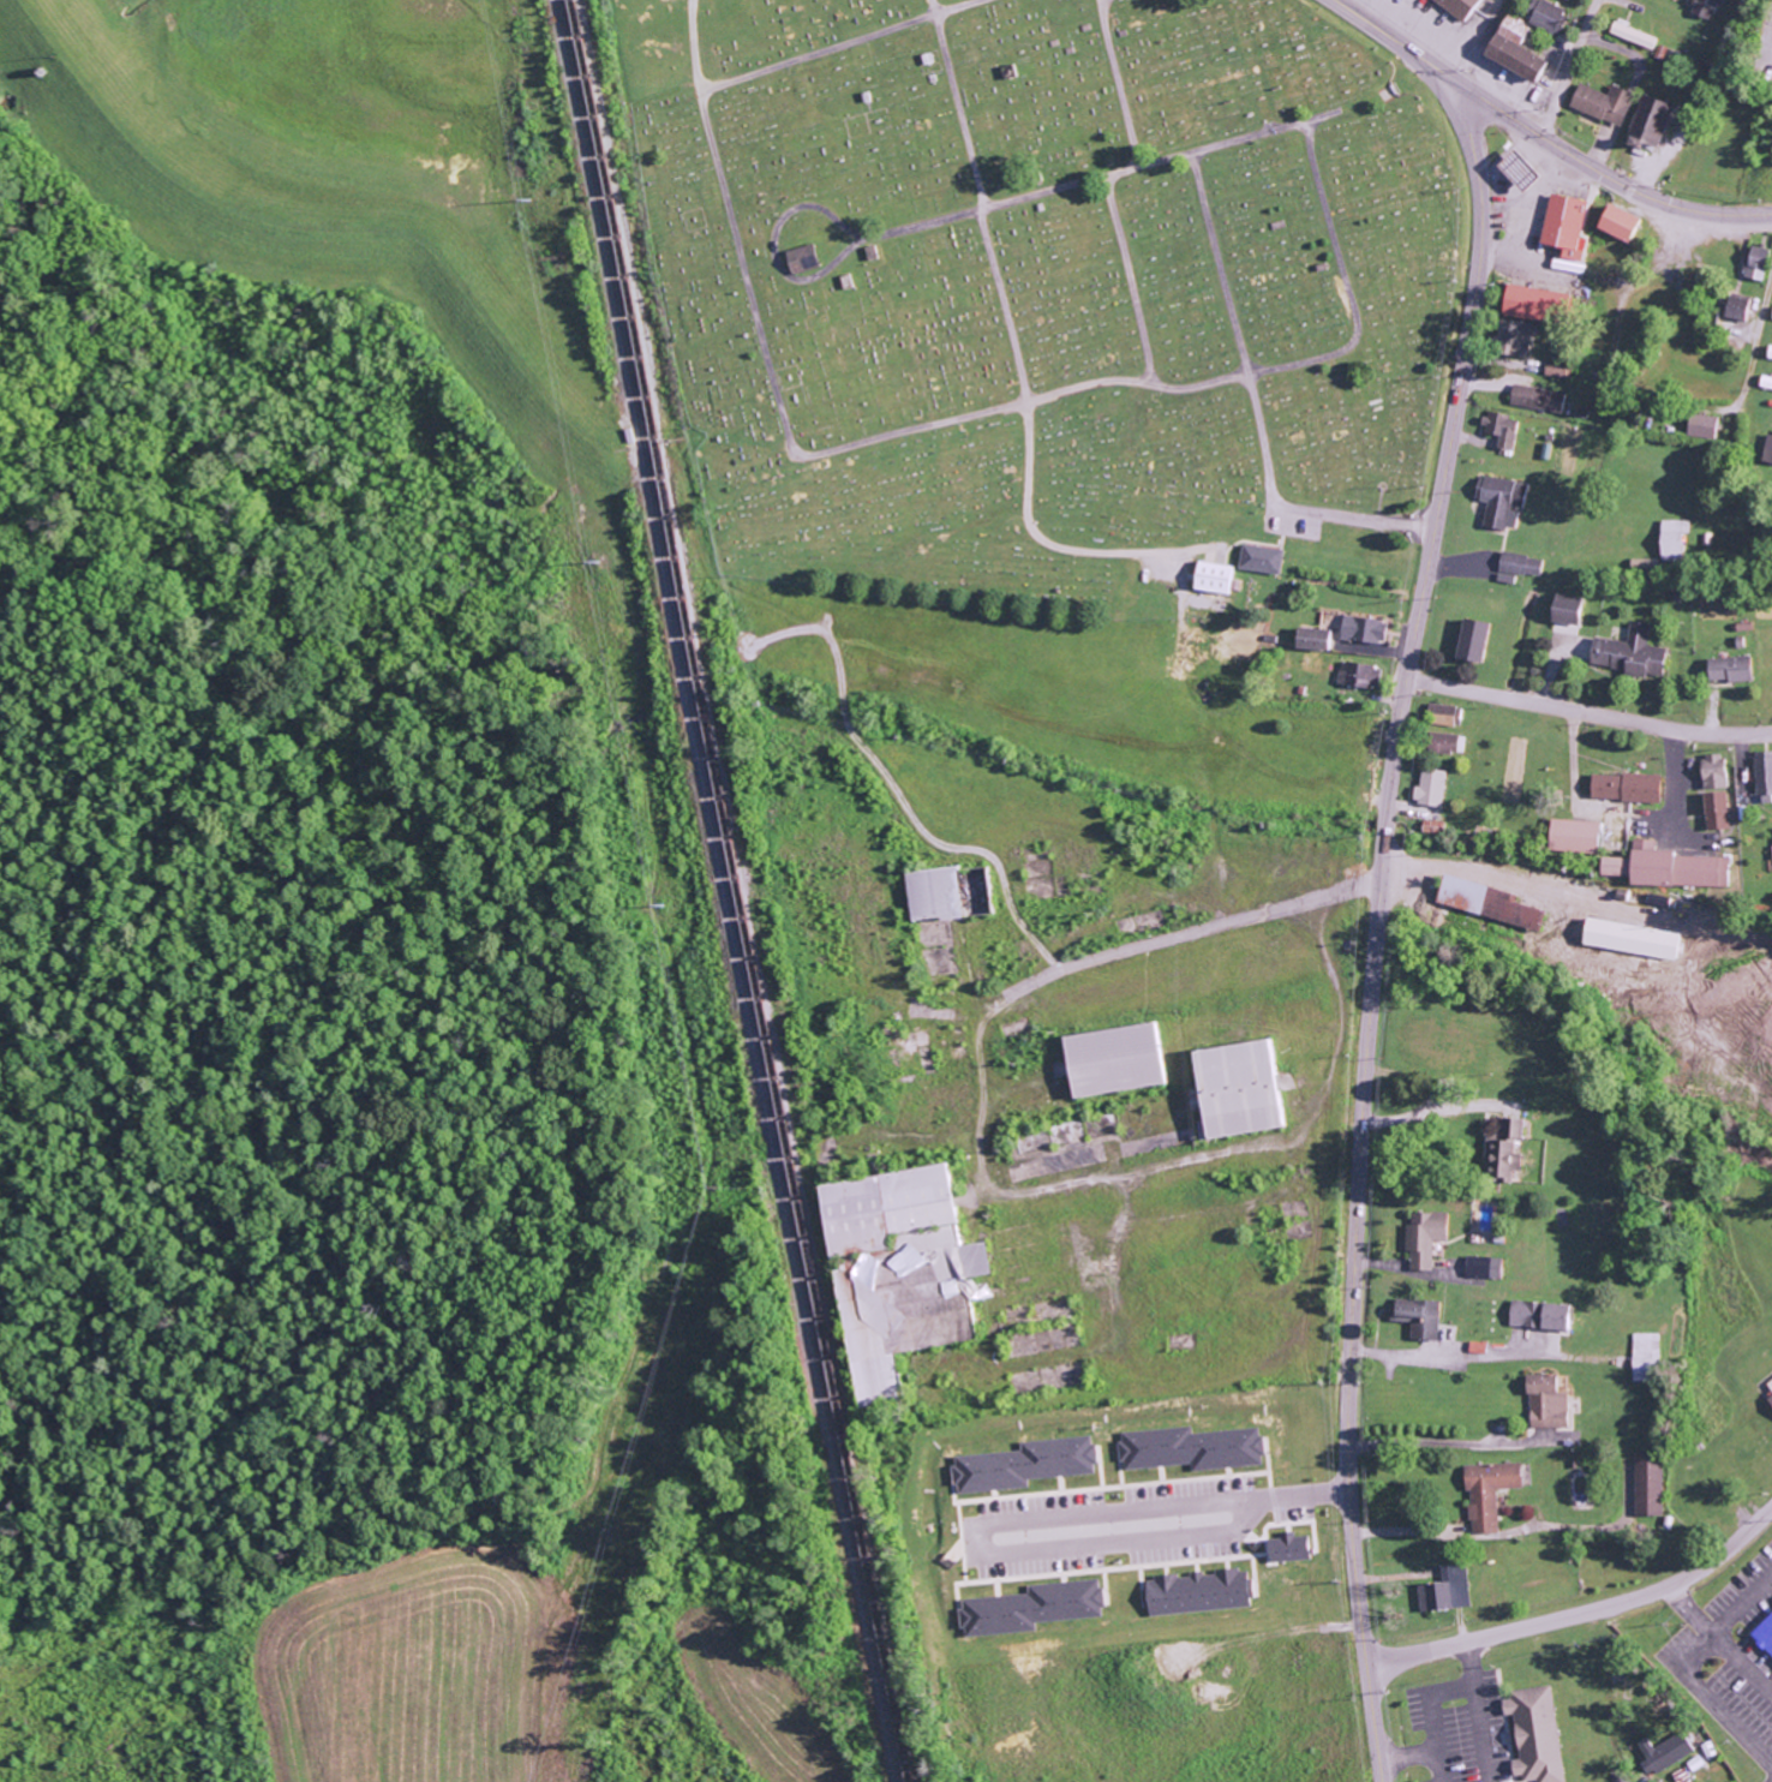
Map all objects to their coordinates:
building: (1574, 0)
building: (1456, 7)
building: (1700, 8)
building: (1545, 17)
building: (1630, 35)
road: (1408, 50)
building: (1513, 50)
road: (1574, 55)
road: (1118, 83)
building: (1599, 103)
building: (1645, 122)
road: (1545, 124)
building: (1515, 171)
road: (1091, 178)
road: (1620, 185)
road: (809, 207)
road: (982, 207)
building: (1614, 222)
building: (1563, 232)
building: (801, 258)
building: (1752, 263)
road: (1129, 280)
park: (1044, 292)
building: (1537, 305)
building: (1732, 309)
building: (1771, 312)
road: (1755, 331)
building: (1510, 337)
building: (1767, 352)
building: (1557, 370)
building: (1764, 382)
building: (1534, 397)
road: (1255, 402)
road: (924, 426)
building: (1699, 426)
building: (1498, 430)
building: (1766, 449)
building: (1498, 501)
building: (1670, 539)
building: (1258, 558)
building: (1515, 567)
building: (1211, 578)
building: (1564, 614)
building: (1361, 629)
building: (1310, 639)
building: (1469, 641)
building: (1628, 653)
building: (1728, 669)
building: (1357, 675)
road: (1588, 711)
building: (1441, 714)
building: (1442, 743)
building: (1712, 771)
building: (1762, 777)
building: (1624, 787)
building: (1429, 788)
building: (1714, 811)
building: (1430, 826)
building: (1572, 836)
building: (1771, 853)
building: (1610, 867)
building: (1672, 868)
railway: (726, 891)
building: (945, 892)
building: (1459, 895)
building: (1507, 910)
road: (1376, 935)
building: (1628, 939)
building: (1112, 1059)
building: (1237, 1088)
building: (1502, 1149)
building: (1424, 1238)
building: (1481, 1267)
building: (897, 1272)
building: (1537, 1315)
building: (1418, 1317)
building: (1644, 1357)
building: (1770, 1397)
building: (1546, 1401)
building: (1185, 1448)
building: (1022, 1464)
building: (1646, 1484)
building: (1487, 1493)
building: (1285, 1548)
building: (1443, 1590)
building: (1193, 1592)
building: (1029, 1608)
road: (1581, 1614)
building: (1766, 1626)
parking lot: (1734, 1649)
building: (1533, 1734)
building: (1660, 1753)

